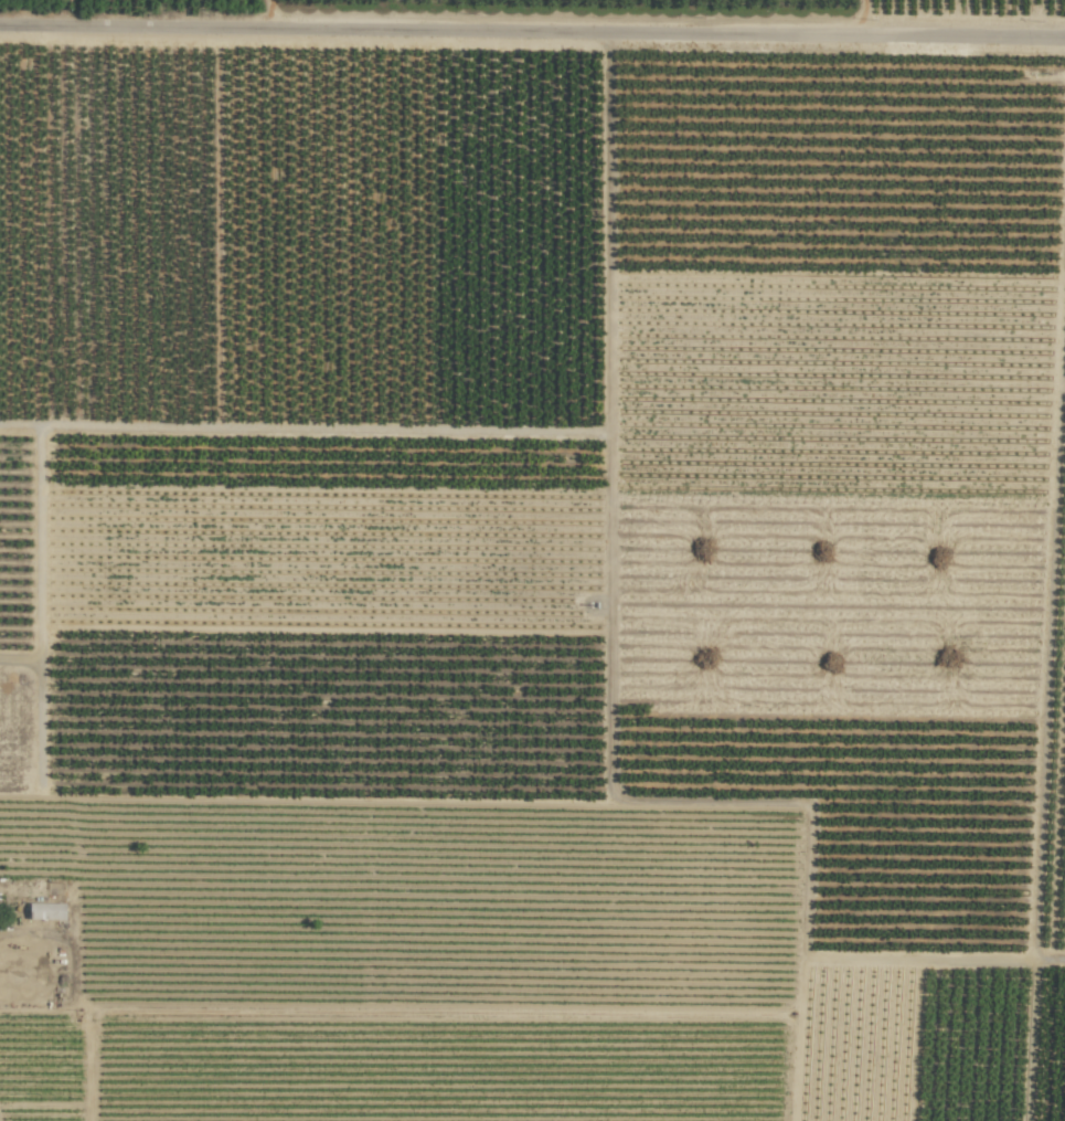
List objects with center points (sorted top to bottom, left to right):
road: (532, 32)
building: (46, 911)

